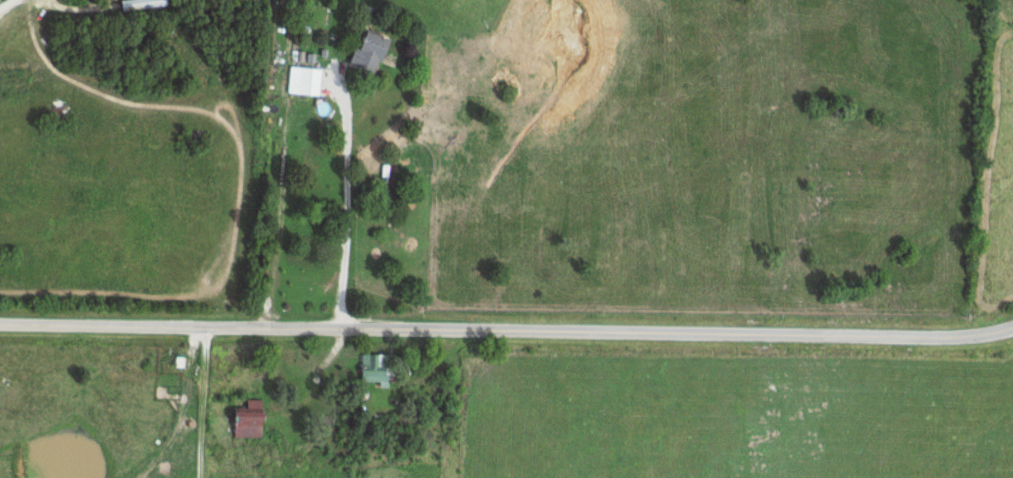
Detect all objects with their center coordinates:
road: (7, 5)
building: (375, 50)
building: (313, 80)
road: (332, 204)
road: (506, 326)
building: (381, 367)
building: (435, 390)
building: (256, 419)

